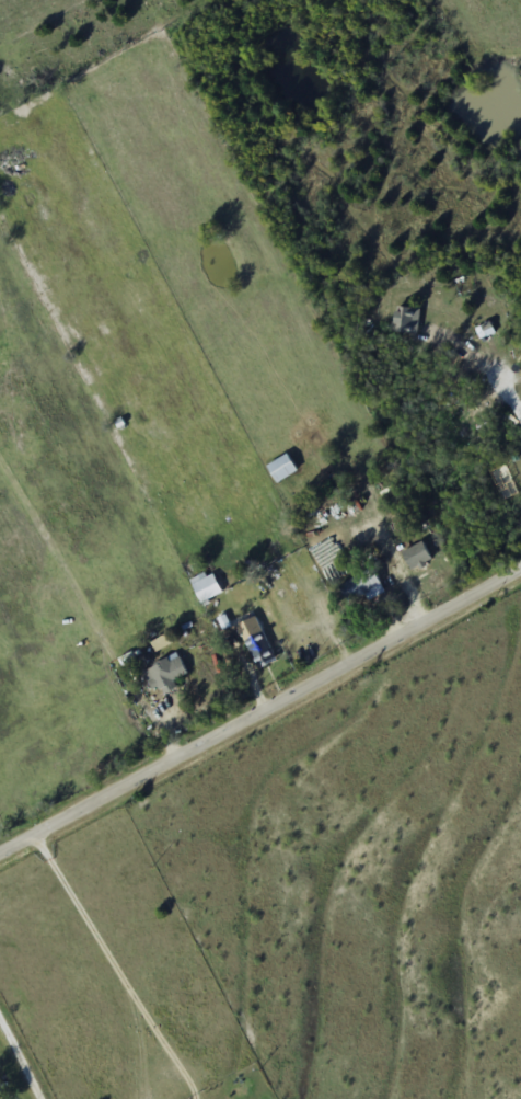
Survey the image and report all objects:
building: (282, 469)
building: (418, 558)
building: (362, 588)
building: (209, 589)
building: (260, 648)
building: (167, 675)
road: (260, 712)

